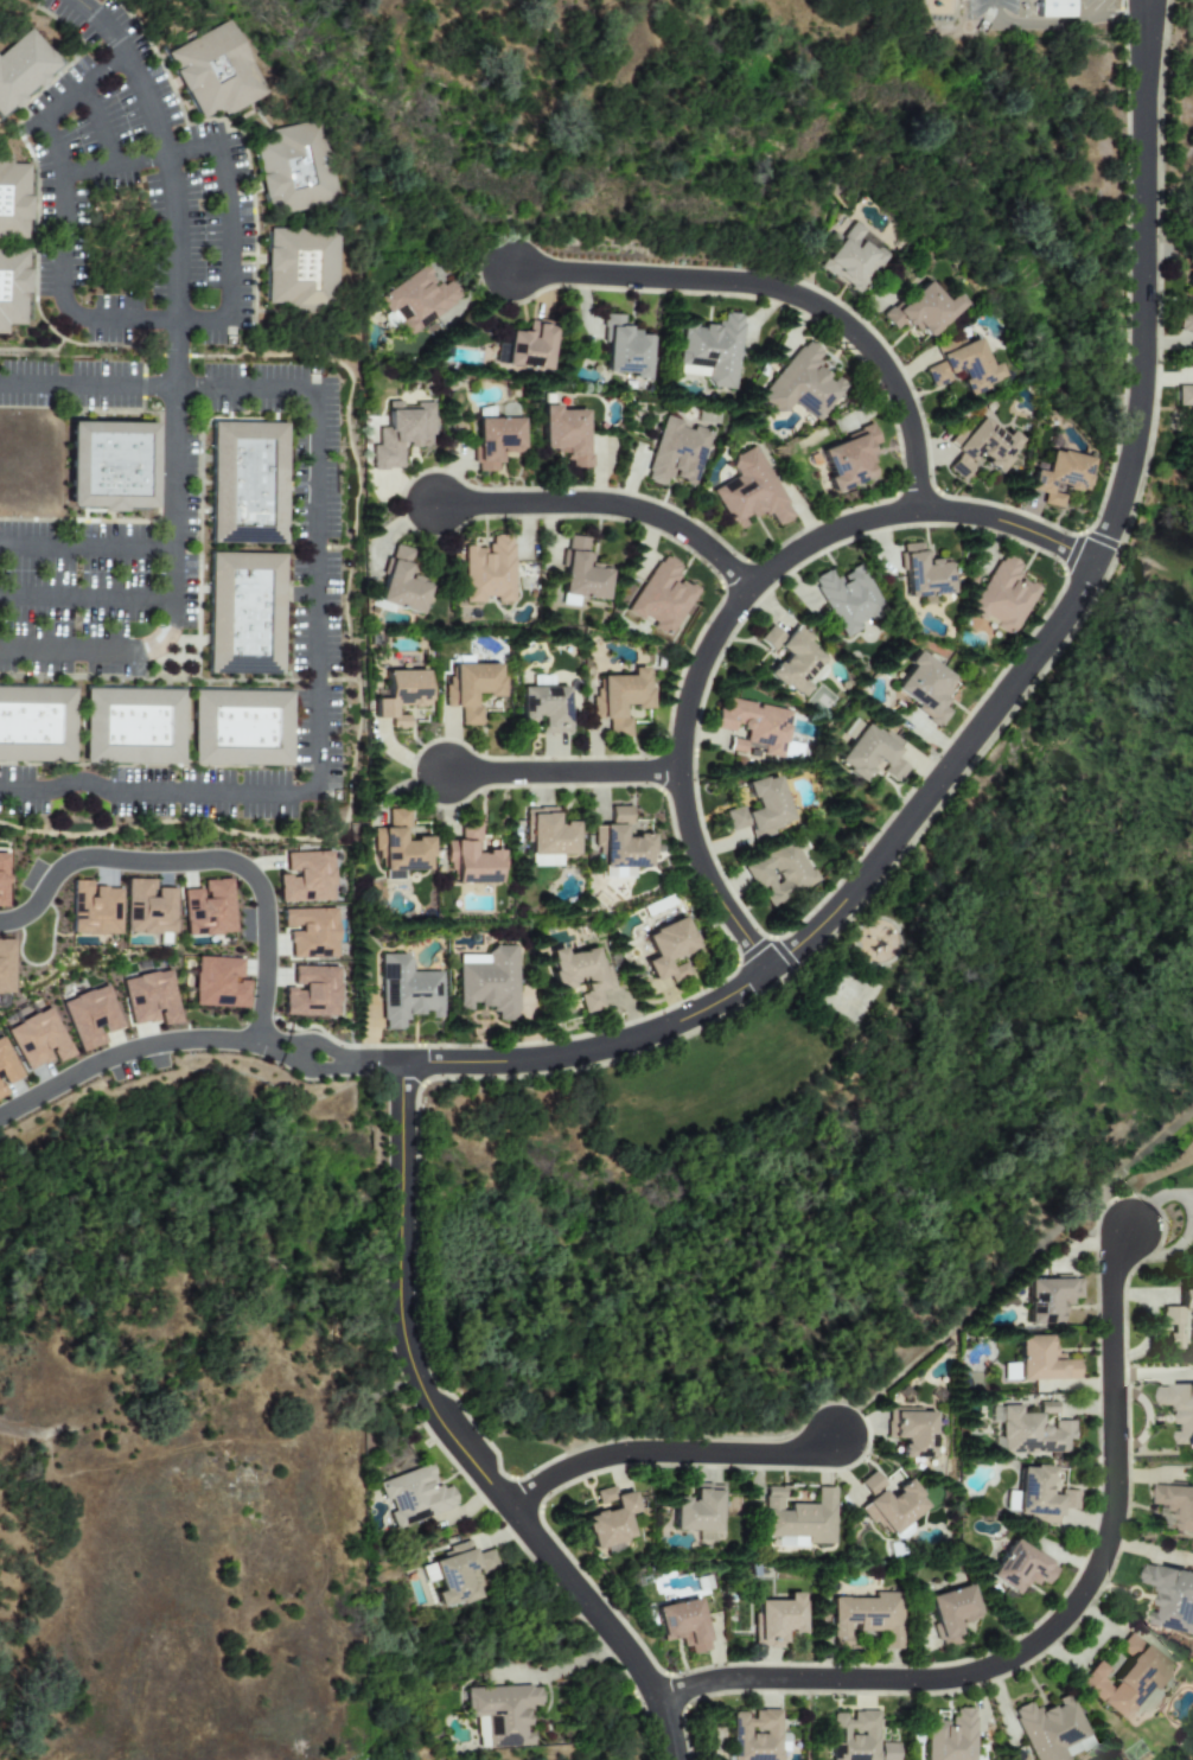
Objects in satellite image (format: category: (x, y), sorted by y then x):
road: (1142, 5)
road: (1144, 5)
building: (1052, 8)
road: (59, 21)
road: (1058, 24)
building: (23, 69)
building: (215, 71)
road: (59, 106)
road: (7, 122)
road: (98, 126)
road: (140, 160)
building: (293, 168)
parking lot: (88, 173)
building: (12, 199)
road: (1125, 217)
building: (850, 257)
building: (301, 269)
building: (1189, 280)
road: (30, 281)
building: (12, 286)
road: (780, 291)
building: (416, 300)
building: (921, 310)
road: (167, 319)
building: (1186, 319)
building: (530, 346)
building: (624, 349)
road: (33, 350)
building: (710, 350)
road: (186, 356)
building: (963, 368)
road: (142, 382)
building: (800, 384)
road: (174, 389)
building: (1185, 396)
building: (401, 434)
building: (563, 434)
building: (495, 441)
building: (980, 447)
building: (676, 453)
building: (848, 459)
building: (109, 465)
building: (1059, 477)
building: (247, 482)
road: (402, 491)
building: (749, 492)
road: (158, 497)
road: (601, 504)
road: (596, 533)
road: (547, 534)
road: (85, 547)
road: (199, 556)
building: (487, 572)
building: (581, 572)
building: (923, 573)
building: (401, 582)
road: (317, 588)
building: (1003, 595)
building: (661, 597)
road: (85, 598)
building: (847, 599)
road: (733, 607)
building: (244, 613)
road: (178, 644)
road: (167, 658)
building: (793, 659)
road: (179, 680)
building: (925, 688)
building: (471, 689)
building: (400, 695)
building: (619, 700)
road: (991, 703)
building: (546, 708)
road: (358, 719)
road: (187, 722)
building: (36, 723)
building: (132, 726)
road: (186, 727)
building: (754, 727)
building: (241, 728)
building: (870, 753)
road: (557, 773)
parking lot: (23, 791)
parking lot: (202, 793)
building: (759, 808)
building: (548, 838)
building: (620, 846)
building: (397, 848)
building: (471, 857)
road: (204, 863)
building: (778, 873)
building: (306, 878)
building: (2, 880)
building: (147, 908)
building: (208, 908)
building: (92, 910)
building: (310, 932)
building: (668, 950)
building: (5, 967)
building: (580, 974)
building: (489, 982)
building: (218, 983)
building: (406, 991)
building: (311, 993)
park: (849, 995)
building: (149, 999)
building: (90, 1016)
building: (38, 1040)
park: (754, 1044)
road: (279, 1052)
road: (123, 1058)
road: (350, 1063)
building: (6, 1069)
road: (1188, 1152)
road: (1188, 1158)
road: (1134, 1181)
road: (1023, 1258)
building: (1048, 1299)
building: (1180, 1320)
building: (1041, 1360)
building: (1180, 1409)
building: (1028, 1430)
building: (911, 1431)
road: (454, 1443)
road: (666, 1452)
building: (414, 1496)
building: (1039, 1496)
building: (1178, 1503)
building: (889, 1504)
building: (697, 1509)
building: (610, 1518)
building: (798, 1518)
road: (995, 1548)
road: (1070, 1558)
building: (1020, 1568)
building: (460, 1574)
road: (1045, 1596)
building: (1172, 1598)
building: (951, 1613)
building: (867, 1619)
building: (777, 1620)
building: (683, 1625)
road: (1053, 1626)
road: (248, 1652)
building: (1124, 1679)
building: (500, 1714)
building: (1052, 1730)
building: (755, 1735)
building: (950, 1736)
building: (857, 1739)

